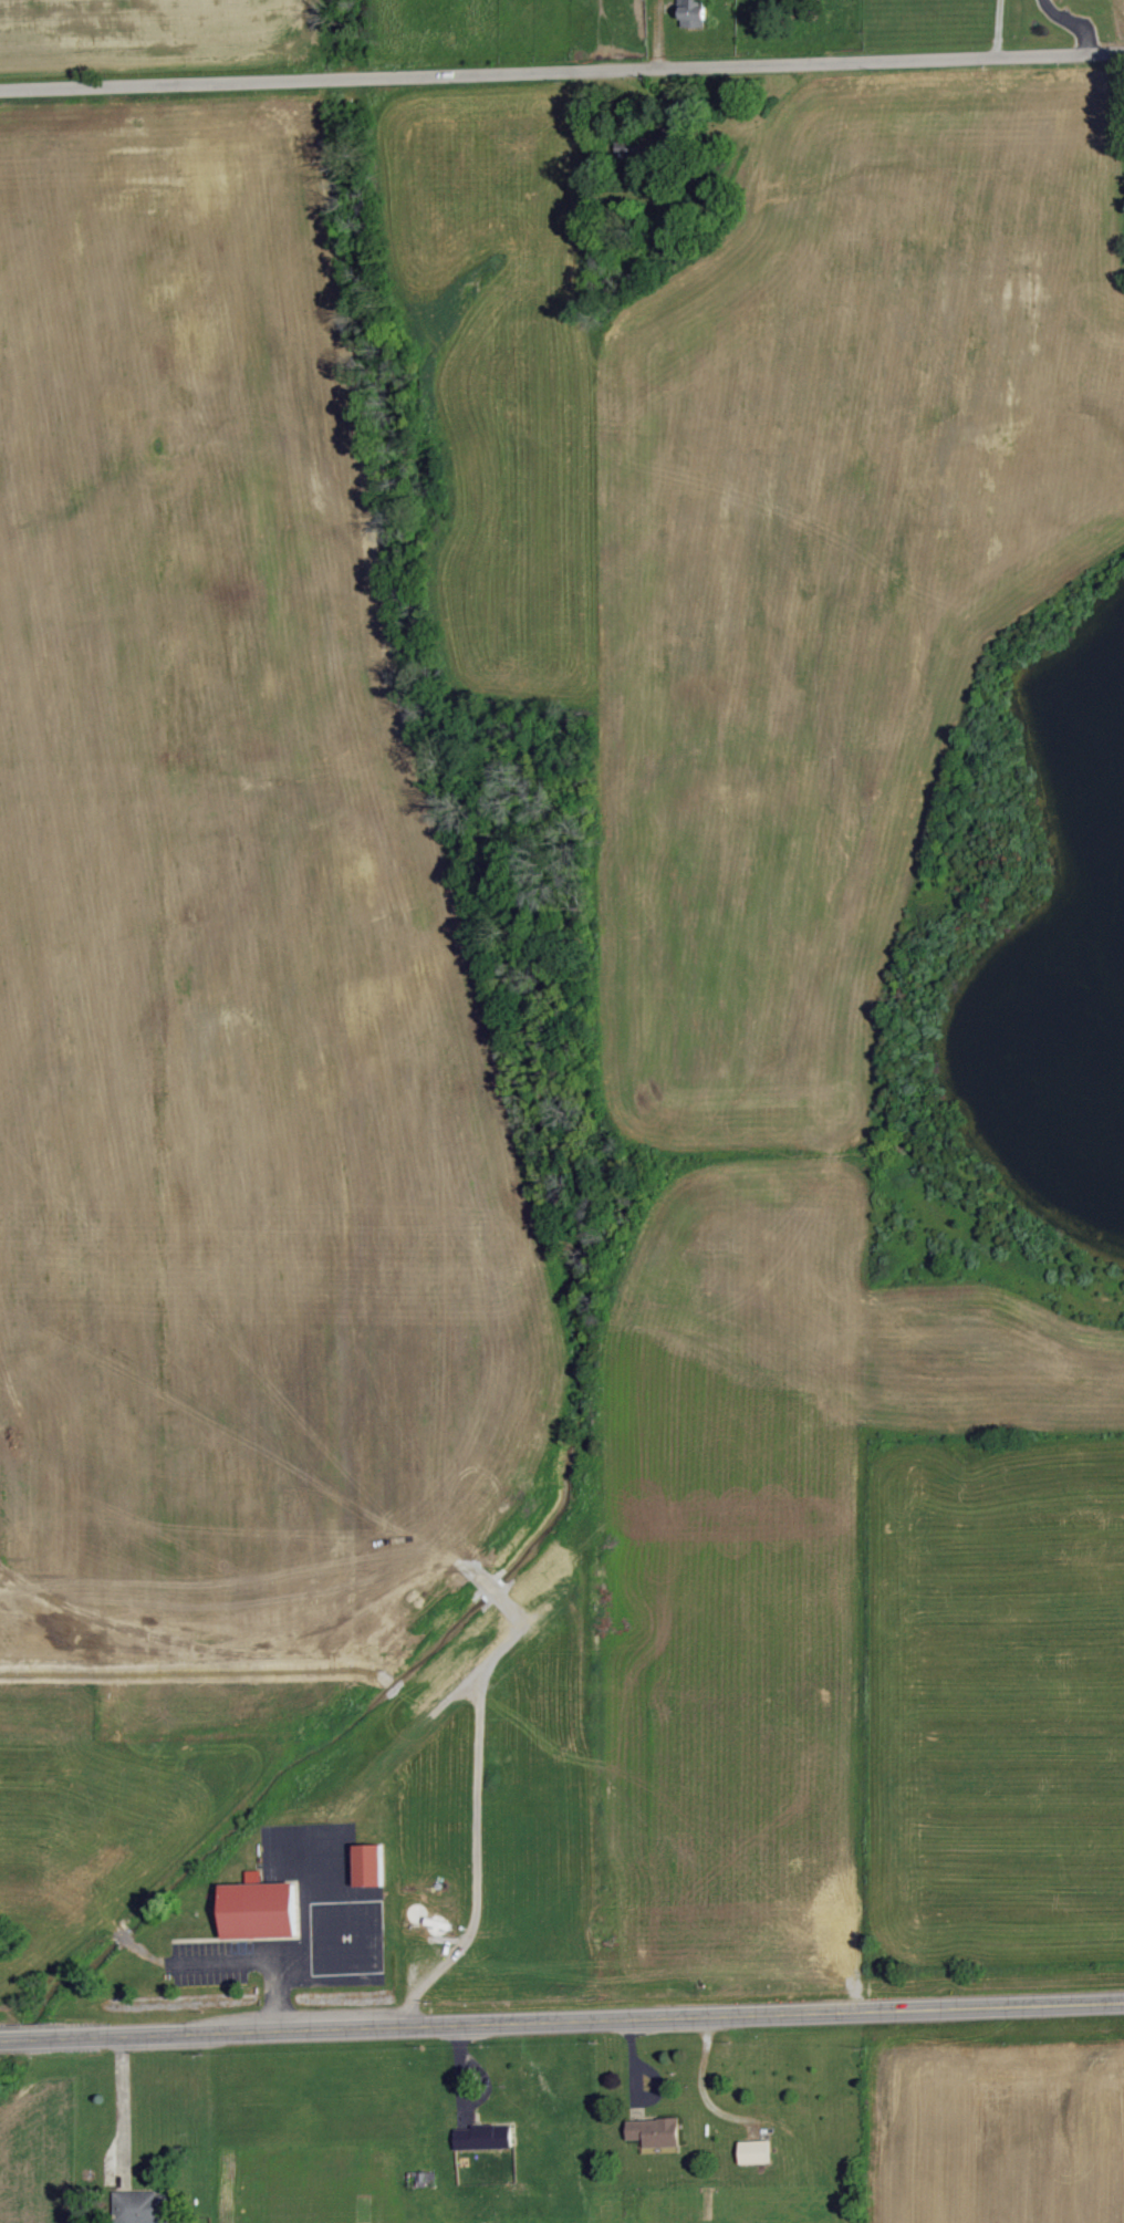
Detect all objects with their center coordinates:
building: (694, 13)
road: (1072, 23)
road: (1007, 29)
road: (562, 71)
building: (371, 1867)
building: (257, 1908)
road: (316, 1956)
road: (273, 1995)
road: (584, 2019)
road: (23, 2039)
road: (701, 2081)
road: (121, 2108)
building: (658, 2132)
building: (485, 2137)
building: (757, 2152)
building: (145, 2206)

